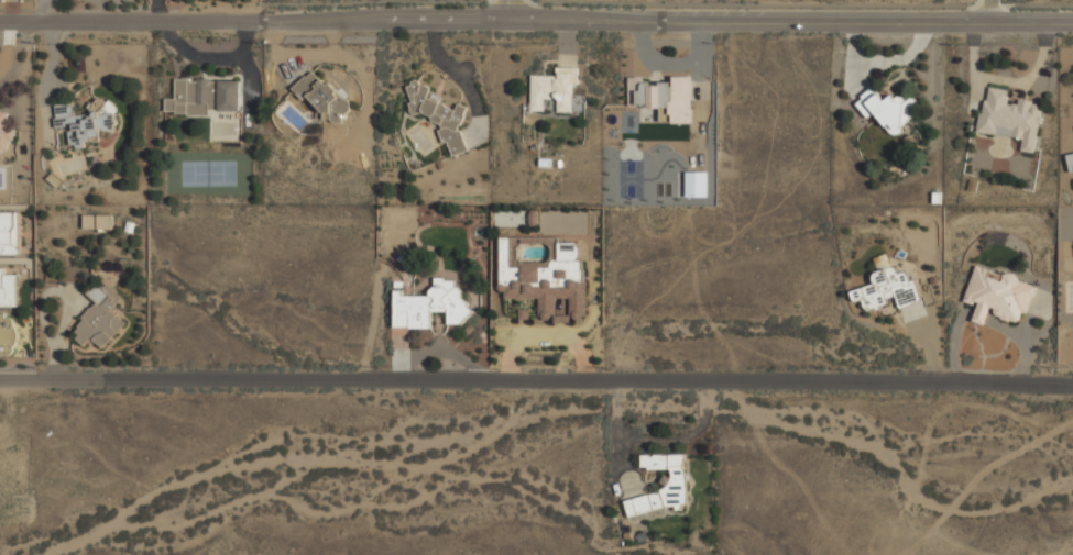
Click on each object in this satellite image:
road: (992, 8)
road: (508, 10)
road: (536, 19)
road: (47, 80)
building: (556, 90)
building: (205, 96)
building: (663, 96)
building: (322, 97)
building: (888, 108)
building: (439, 116)
building: (1009, 118)
building: (86, 121)
building: (4, 133)
building: (1070, 162)
park: (208, 173)
building: (97, 221)
building: (10, 232)
building: (546, 282)
building: (887, 286)
building: (8, 288)
building: (998, 295)
building: (430, 304)
building: (99, 318)
building: (7, 332)
road: (536, 379)
building: (663, 482)

